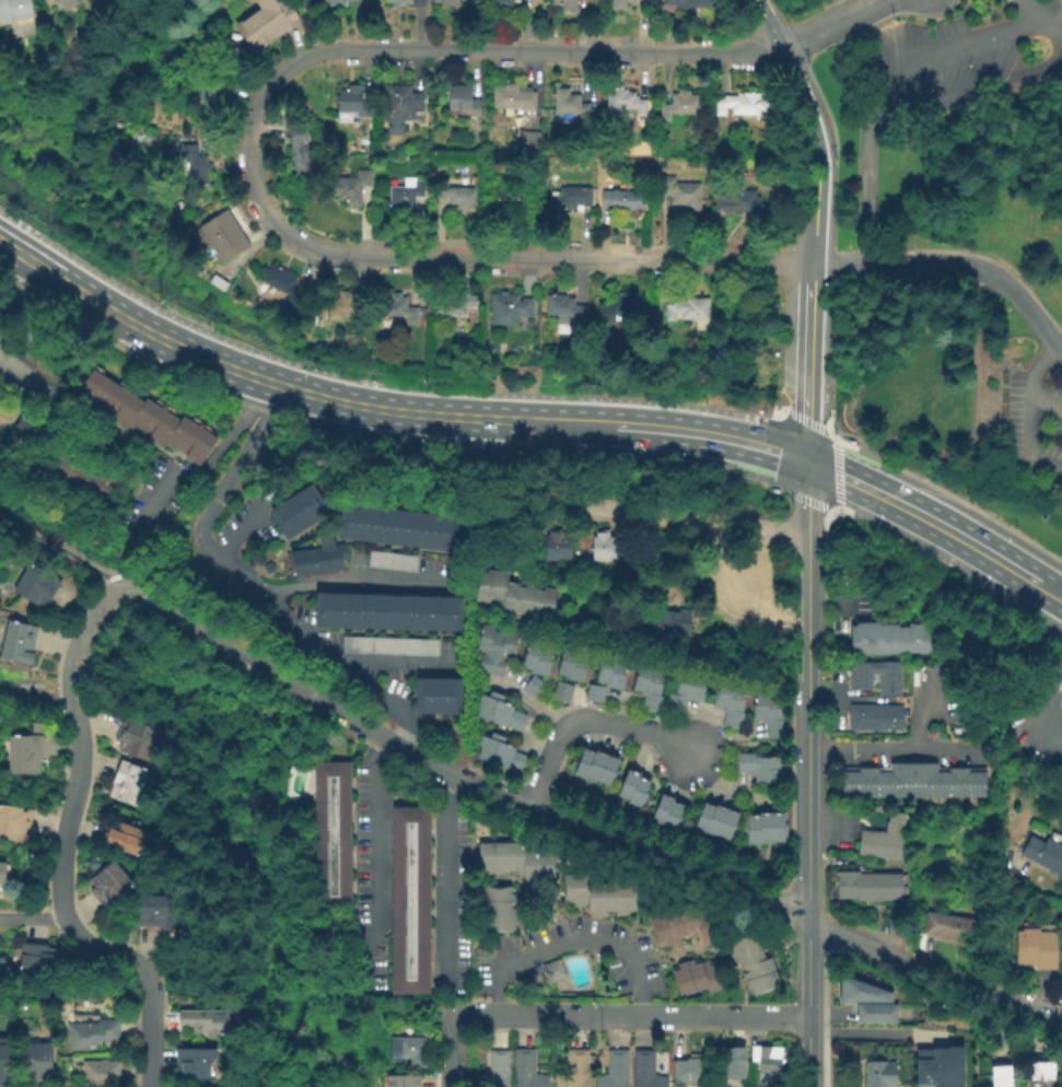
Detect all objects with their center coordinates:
building: (516, 0)
building: (49, 2)
building: (338, 2)
building: (406, 2)
building: (63, 3)
building: (454, 3)
building: (504, 3)
building: (684, 3)
building: (563, 4)
building: (619, 4)
building: (13, 9)
road: (836, 11)
building: (267, 22)
road: (1039, 22)
road: (766, 24)
road: (832, 24)
road: (941, 48)
road: (816, 89)
building: (207, 92)
building: (513, 100)
building: (352, 102)
building: (459, 103)
building: (564, 103)
building: (620, 103)
building: (742, 105)
building: (678, 106)
building: (400, 108)
road: (901, 115)
building: (529, 141)
building: (297, 151)
road: (817, 151)
building: (191, 165)
road: (247, 167)
building: (440, 167)
building: (350, 188)
building: (681, 194)
building: (459, 197)
building: (509, 198)
building: (406, 199)
building: (569, 199)
building: (621, 200)
building: (737, 202)
building: (219, 237)
road: (954, 260)
road: (809, 270)
road: (51, 272)
building: (215, 279)
building: (281, 284)
building: (452, 305)
building: (341, 307)
building: (396, 308)
building: (622, 308)
building: (507, 309)
building: (687, 309)
building: (563, 311)
road: (57, 341)
road: (831, 343)
road: (191, 351)
road: (806, 370)
road: (23, 378)
road: (358, 381)
road: (240, 387)
road: (1045, 404)
road: (370, 407)
road: (1030, 413)
building: (142, 418)
road: (801, 418)
road: (523, 421)
road: (780, 425)
building: (24, 430)
road: (699, 433)
building: (0, 440)
traffic signals: (805, 461)
road: (207, 467)
building: (80, 481)
road: (759, 481)
road: (936, 488)
road: (837, 504)
building: (297, 513)
road: (647, 514)
road: (930, 521)
road: (247, 524)
building: (399, 529)
building: (759, 541)
road: (66, 548)
building: (556, 548)
building: (604, 549)
building: (758, 559)
building: (315, 561)
building: (390, 561)
road: (358, 578)
building: (757, 578)
road: (252, 583)
building: (35, 585)
road: (1057, 595)
building: (514, 596)
road: (805, 601)
road: (844, 603)
building: (386, 612)
building: (629, 621)
building: (670, 621)
building: (576, 626)
road: (212, 632)
building: (868, 639)
building: (854, 640)
building: (883, 640)
building: (895, 640)
building: (909, 640)
building: (922, 640)
building: (486, 641)
building: (16, 642)
building: (505, 645)
building: (388, 646)
building: (529, 656)
building: (542, 661)
building: (563, 663)
road: (405, 665)
building: (490, 665)
building: (576, 667)
building: (604, 670)
building: (617, 675)
building: (859, 676)
building: (640, 677)
building: (885, 678)
building: (533, 687)
building: (696, 690)
building: (560, 692)
building: (651, 692)
building: (594, 693)
building: (721, 694)
road: (35, 696)
building: (677, 696)
building: (436, 698)
building: (901, 701)
road: (525, 705)
building: (758, 705)
road: (1048, 706)
building: (499, 708)
building: (733, 710)
road: (917, 713)
road: (584, 718)
building: (772, 718)
building: (860, 718)
building: (886, 718)
building: (497, 721)
building: (135, 737)
building: (500, 748)
road: (891, 753)
road: (408, 755)
building: (22, 757)
building: (499, 763)
building: (755, 764)
building: (583, 765)
building: (596, 768)
building: (608, 772)
building: (769, 780)
building: (911, 782)
building: (627, 786)
building: (131, 788)
building: (638, 794)
building: (661, 810)
building: (670, 819)
building: (703, 820)
building: (715, 821)
building: (13, 825)
building: (727, 827)
building: (766, 829)
building: (777, 829)
building: (752, 832)
road: (805, 833)
road: (66, 837)
building: (331, 840)
building: (883, 840)
building: (126, 841)
building: (1043, 855)
road: (370, 861)
building: (511, 862)
road: (667, 867)
building: (1, 880)
road: (450, 884)
building: (110, 885)
building: (845, 886)
building: (868, 888)
building: (892, 888)
building: (597, 897)
building: (409, 902)
building: (499, 910)
building: (157, 912)
road: (32, 917)
building: (946, 928)
building: (680, 930)
road: (1003, 930)
road: (570, 943)
building: (1035, 949)
building: (1061, 961)
building: (37, 965)
building: (751, 966)
building: (551, 972)
road: (933, 973)
building: (697, 979)
building: (861, 993)
road: (806, 1005)
building: (875, 1014)
road: (630, 1015)
building: (206, 1024)
road: (856, 1031)
building: (90, 1035)
building: (406, 1051)
road: (453, 1051)
building: (2, 1057)
building: (35, 1060)
building: (730, 1062)
building: (937, 1065)
building: (194, 1066)
building: (767, 1066)
building: (686, 1070)
building: (493, 1071)
building: (525, 1071)
building: (573, 1071)
building: (612, 1071)
building: (644, 1071)
building: (1038, 1072)
building: (100, 1074)
building: (879, 1074)
road: (147, 1076)
building: (999, 1076)
building: (400, 1082)
building: (199, 1085)

